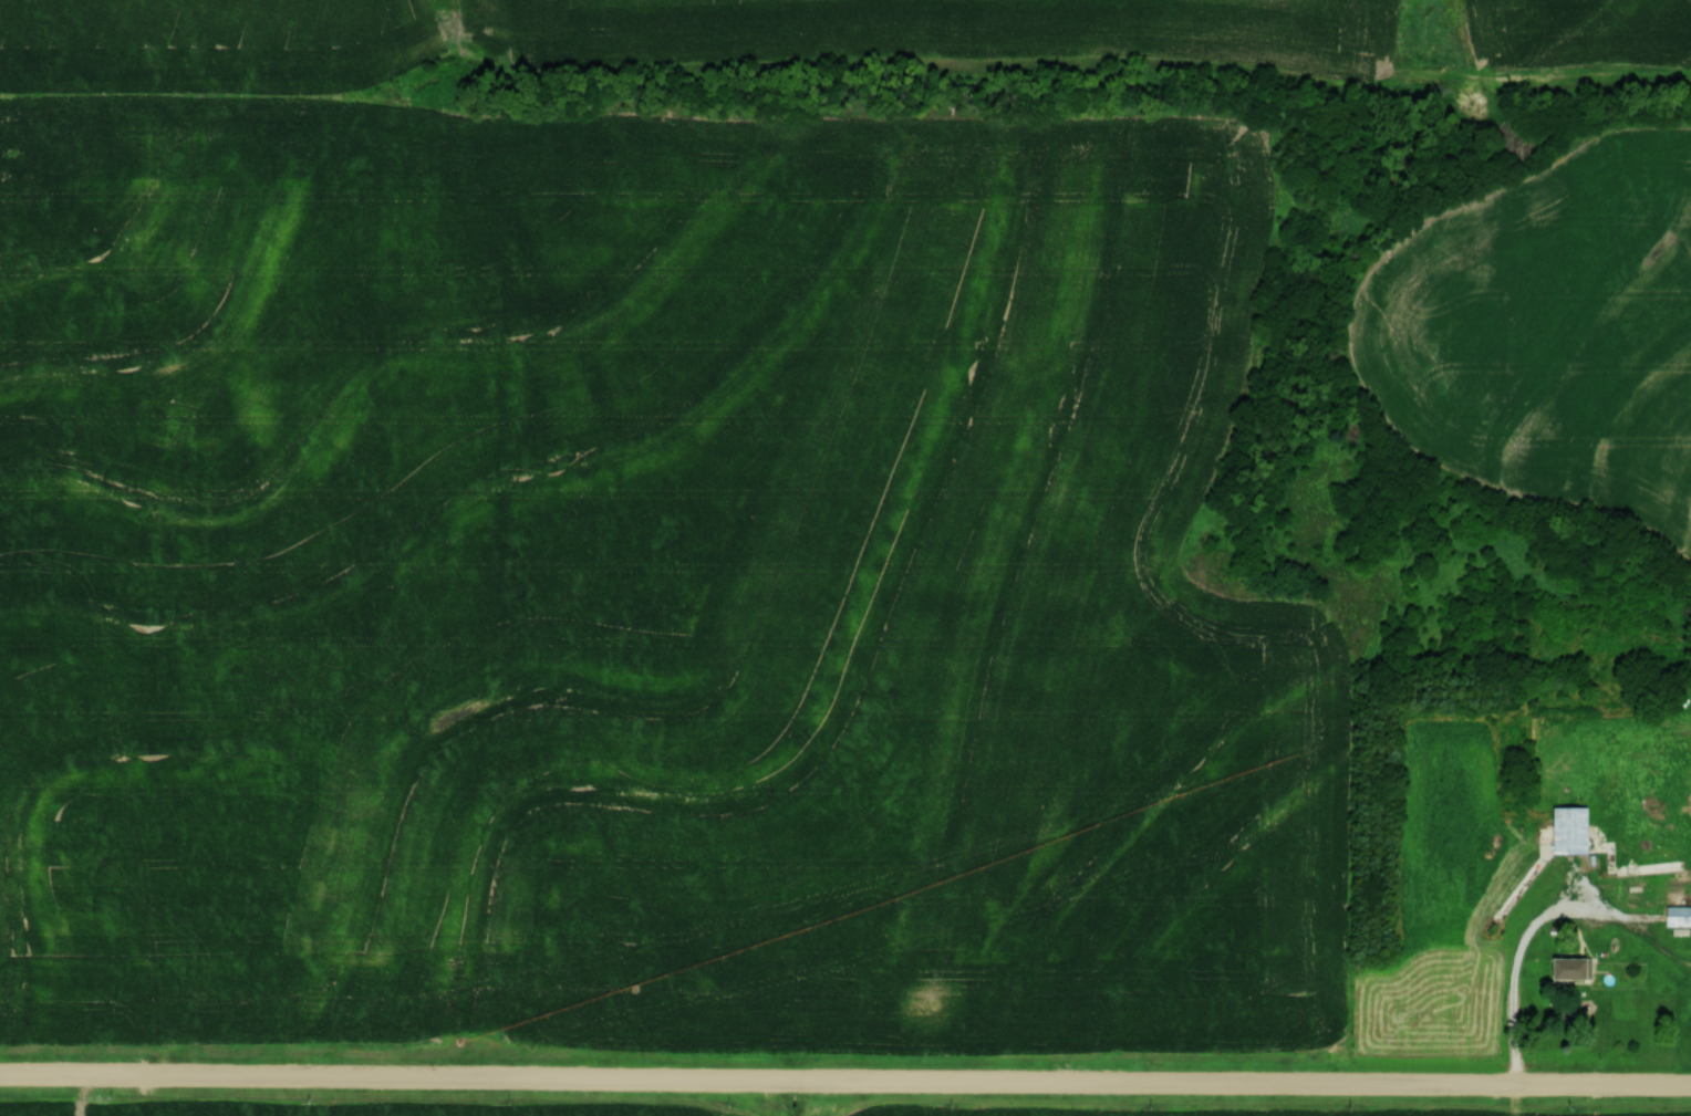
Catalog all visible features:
building: (1568, 828)
road: (1628, 882)
building: (1677, 915)
road: (1538, 926)
building: (1569, 967)
road: (845, 1085)

